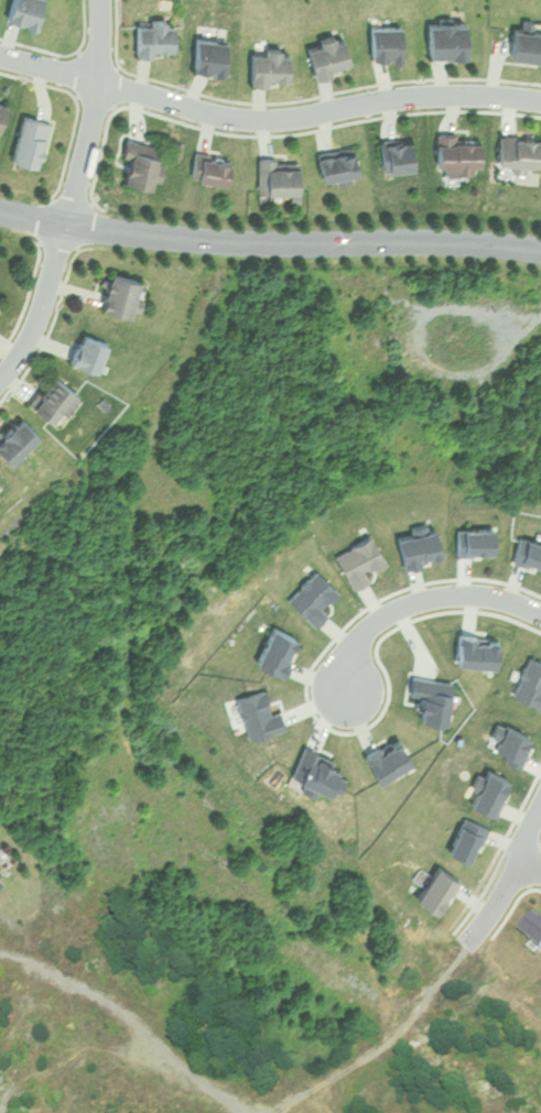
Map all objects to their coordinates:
building: (24, 11)
building: (445, 35)
building: (155, 37)
building: (385, 39)
building: (524, 41)
building: (327, 53)
building: (209, 56)
building: (270, 65)
road: (48, 66)
building: (1, 103)
road: (317, 106)
building: (28, 138)
building: (519, 148)
building: (396, 151)
building: (455, 151)
building: (140, 162)
building: (335, 162)
building: (212, 167)
building: (280, 174)
road: (72, 195)
road: (269, 239)
building: (119, 293)
building: (0, 306)
building: (87, 351)
building: (53, 399)
building: (15, 438)
road: (420, 596)
road: (530, 859)
road: (507, 876)

